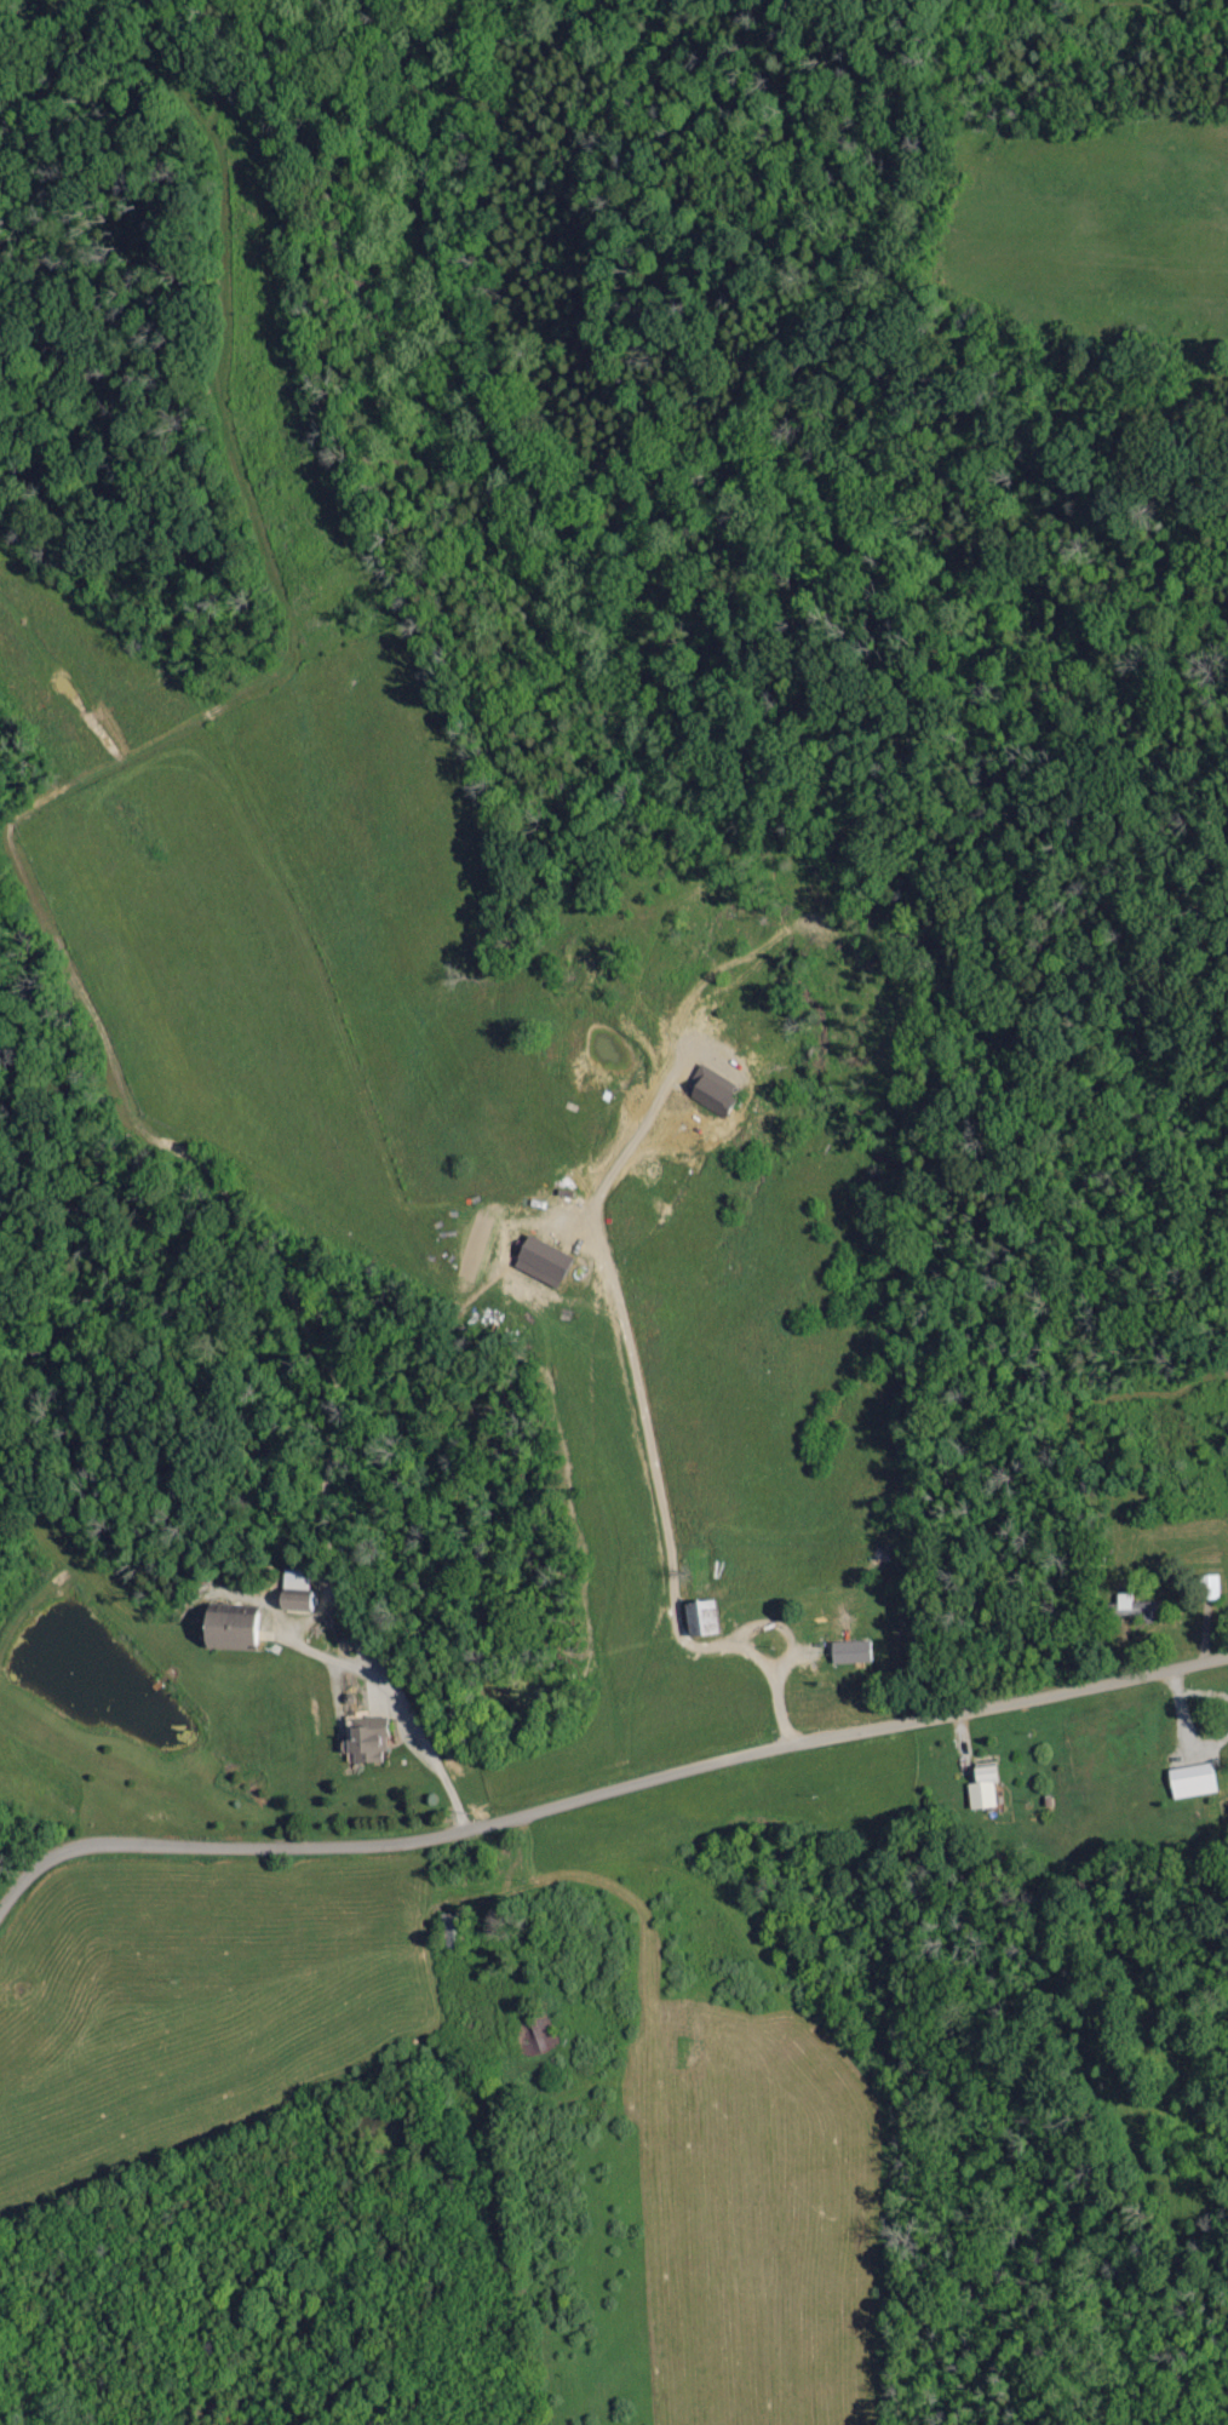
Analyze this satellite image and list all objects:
building: (708, 1093)
building: (536, 1262)
road: (631, 1394)
building: (295, 1594)
building: (1129, 1607)
building: (695, 1619)
building: (225, 1629)
road: (746, 1647)
building: (845, 1653)
road: (408, 1727)
road: (785, 1727)
building: (361, 1741)
building: (1187, 1782)
building: (977, 1788)
road: (604, 1798)

